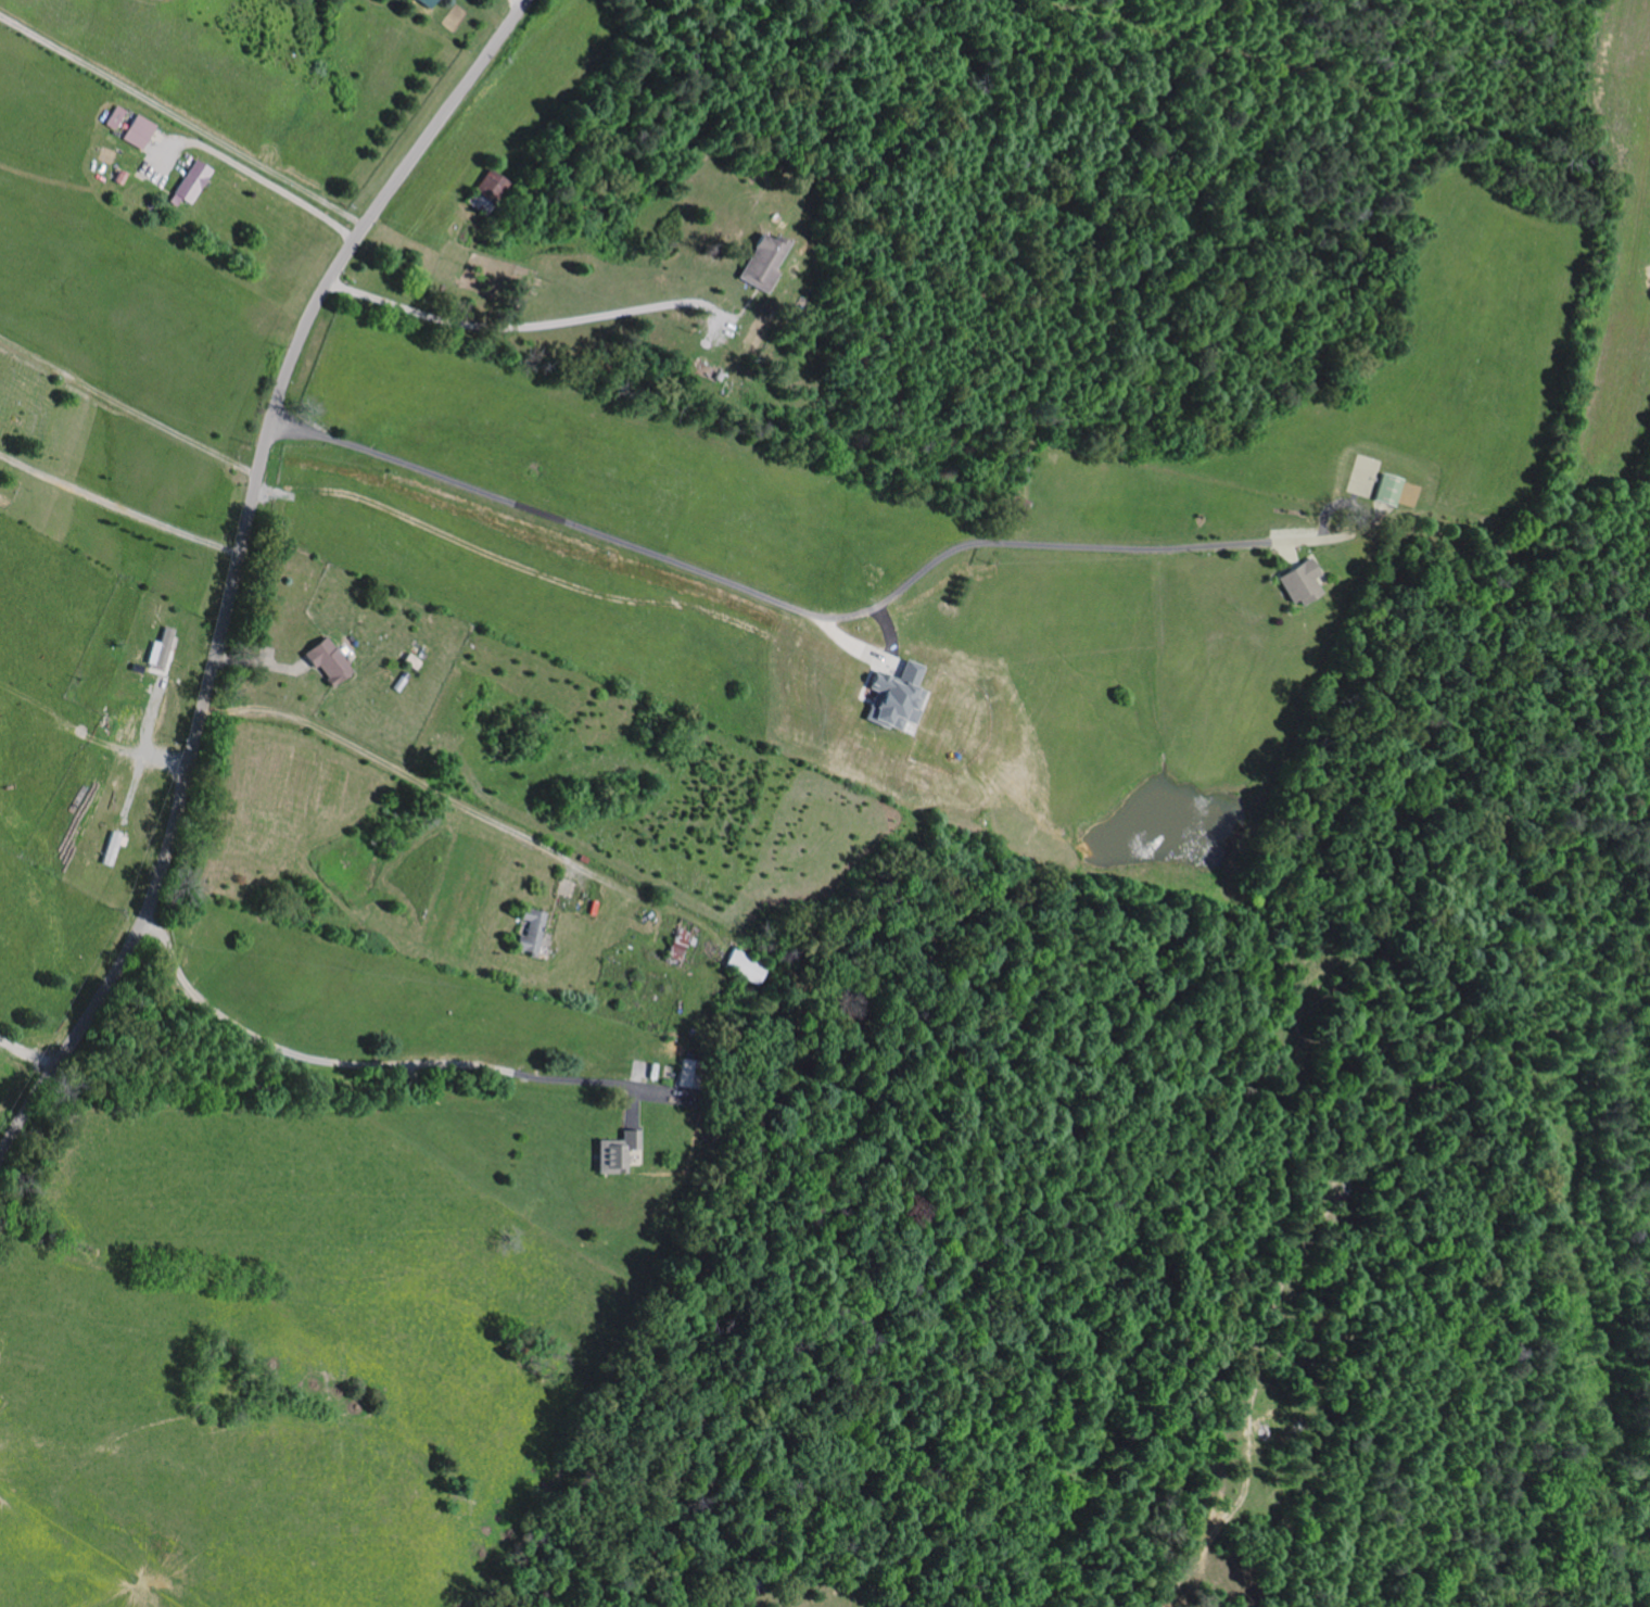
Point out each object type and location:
building: (424, 2)
road: (519, 2)
road: (344, 59)
building: (112, 117)
road: (181, 121)
building: (136, 131)
road: (257, 176)
building: (189, 182)
building: (760, 261)
road: (526, 329)
road: (135, 352)
road: (127, 407)
building: (1384, 490)
road: (118, 506)
road: (234, 567)
building: (1296, 583)
road: (769, 603)
building: (157, 648)
building: (325, 660)
building: (891, 695)
road: (94, 705)
road: (80, 821)
building: (107, 847)
road: (461, 851)
building: (526, 931)
building: (674, 944)
building: (744, 966)
road: (49, 974)
road: (23, 1072)
road: (515, 1092)
building: (613, 1152)

